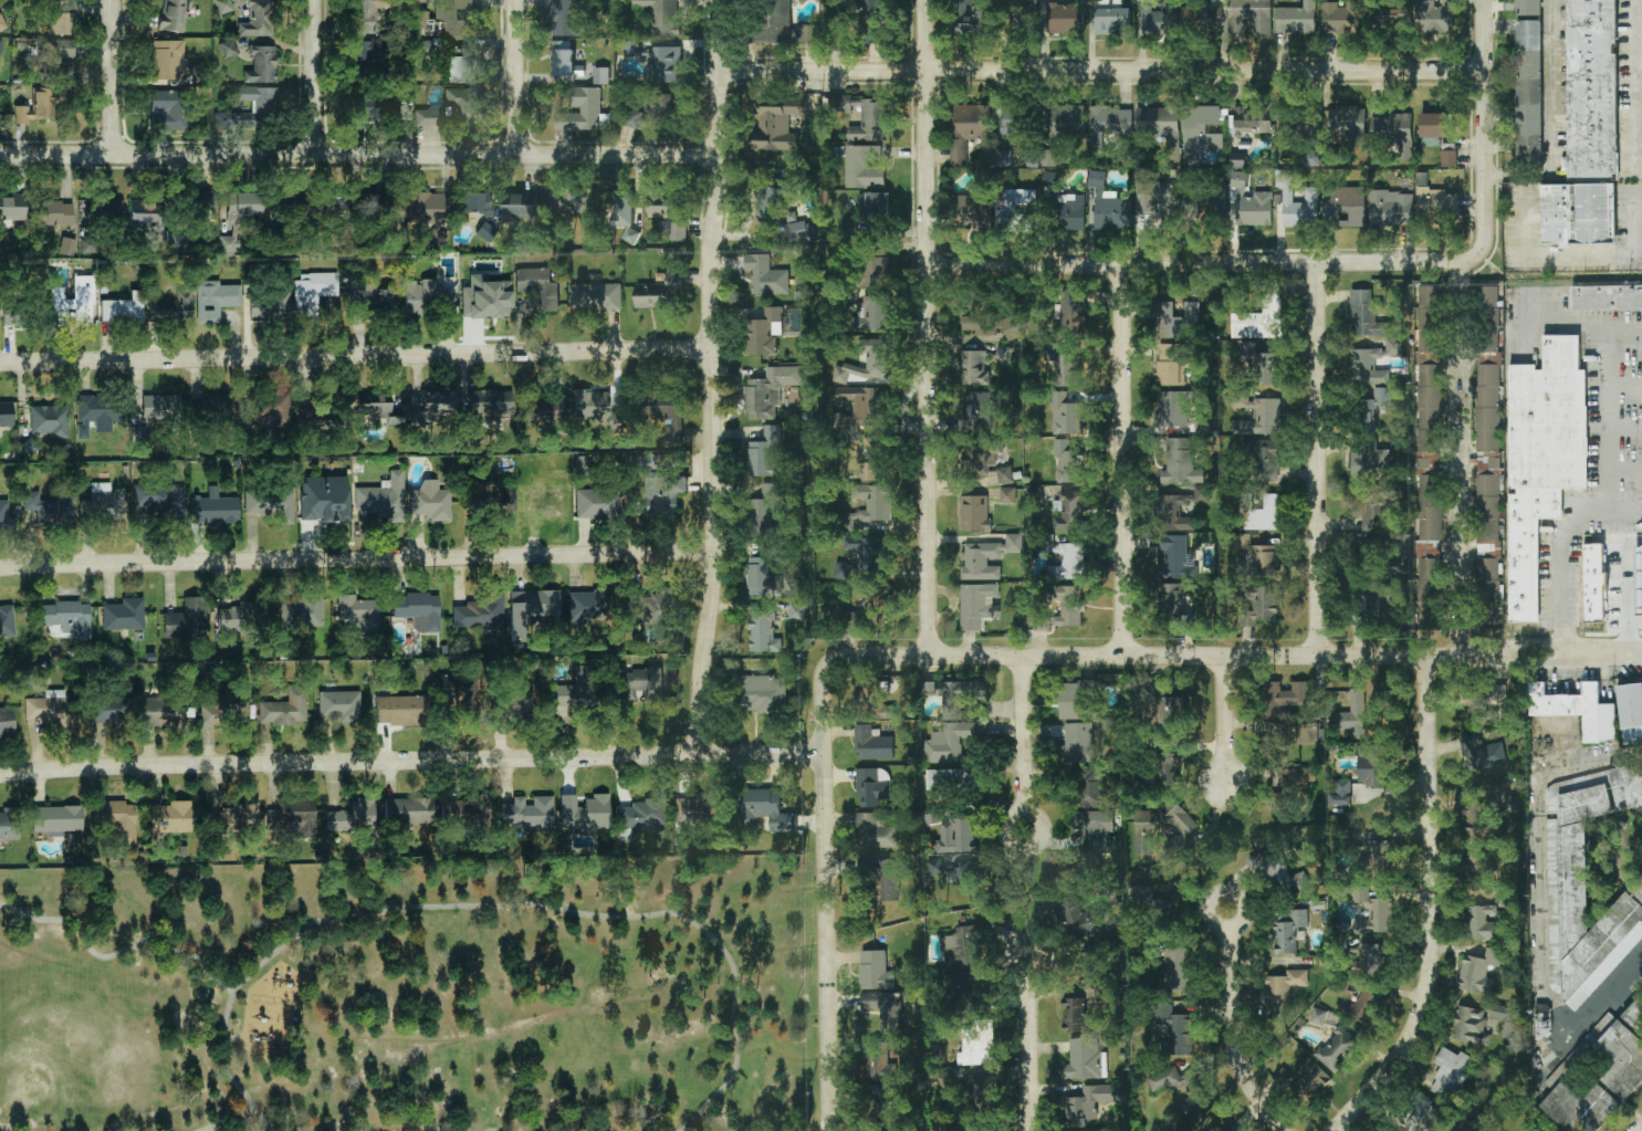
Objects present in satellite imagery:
building: (223, 6)
building: (174, 14)
building: (368, 15)
building: (661, 15)
building: (1435, 15)
building: (1202, 17)
building: (1251, 17)
building: (1390, 17)
building: (457, 18)
building: (568, 18)
building: (972, 18)
building: (1112, 18)
building: (1342, 18)
building: (258, 19)
building: (1065, 19)
building: (1160, 19)
building: (1296, 19)
building: (872, 21)
building: (1, 22)
building: (61, 23)
building: (782, 24)
building: (0, 46)
building: (227, 49)
building: (630, 49)
building: (367, 52)
building: (46, 60)
building: (172, 62)
building: (565, 63)
building: (261, 64)
building: (668, 64)
road: (1102, 71)
building: (602, 75)
road: (114, 77)
road: (316, 77)
road: (517, 77)
building: (1528, 81)
road: (1636, 86)
building: (1591, 91)
building: (364, 103)
building: (461, 105)
road: (1640, 105)
building: (38, 106)
building: (174, 106)
building: (263, 106)
building: (662, 106)
building: (390, 107)
building: (582, 112)
road: (1549, 115)
building: (428, 117)
building: (1294, 117)
building: (1069, 118)
building: (1016, 119)
building: (777, 122)
building: (871, 122)
building: (1252, 122)
building: (1347, 122)
building: (1109, 124)
building: (1435, 125)
building: (1161, 126)
building: (969, 127)
road: (1486, 129)
building: (1200, 130)
building: (1394, 132)
road: (359, 156)
building: (1050, 157)
building: (1311, 158)
building: (1448, 158)
building: (1237, 159)
building: (864, 167)
building: (1050, 179)
building: (1238, 180)
building: (199, 199)
building: (1158, 199)
building: (571, 200)
building: (1434, 200)
building: (289, 201)
building: (772, 202)
building: (1297, 203)
building: (876, 205)
building: (331, 206)
building: (1214, 206)
building: (1343, 207)
building: (426, 208)
building: (517, 208)
building: (1391, 208)
building: (12, 209)
building: (1255, 209)
building: (140, 210)
building: (626, 210)
building: (666, 210)
building: (1014, 210)
building: (975, 211)
building: (1073, 212)
building: (54, 213)
building: (1578, 214)
building: (239, 217)
road: (1635, 226)
building: (801, 230)
building: (485, 231)
building: (679, 231)
building: (630, 237)
building: (185, 242)
road: (1549, 252)
road: (1204, 263)
building: (874, 271)
building: (765, 275)
building: (538, 286)
building: (658, 291)
building: (314, 293)
building: (485, 295)
building: (428, 296)
building: (595, 296)
building: (1606, 299)
building: (215, 300)
building: (373, 301)
building: (74, 303)
building: (270, 305)
building: (123, 308)
building: (171, 308)
building: (12, 313)
building: (875, 313)
building: (1368, 316)
building: (1071, 317)
building: (1178, 320)
building: (1257, 322)
road: (1458, 323)
road: (1568, 323)
building: (981, 324)
building: (1012, 327)
road: (929, 328)
building: (764, 331)
building: (1004, 354)
road: (357, 356)
building: (871, 359)
building: (1175, 363)
building: (1373, 363)
building: (1259, 364)
building: (1063, 366)
building: (974, 368)
road: (714, 377)
building: (1429, 378)
road: (1622, 387)
building: (768, 391)
building: (862, 402)
building: (209, 405)
building: (1373, 406)
building: (378, 407)
building: (433, 407)
building: (160, 408)
building: (272, 410)
building: (542, 410)
building: (597, 410)
building: (1181, 411)
building: (979, 412)
building: (6, 413)
building: (96, 413)
building: (1067, 415)
building: (1258, 417)
road: (1603, 418)
building: (314, 419)
building: (49, 420)
building: (1488, 420)
building: (766, 453)
road: (1320, 460)
building: (1369, 460)
building: (1541, 460)
building: (650, 461)
road: (1125, 461)
building: (1265, 461)
building: (1180, 462)
building: (1067, 463)
building: (983, 464)
road: (1623, 467)
building: (1005, 475)
building: (480, 493)
building: (1034, 494)
building: (157, 495)
building: (662, 495)
building: (1007, 495)
building: (324, 498)
building: (383, 498)
building: (430, 501)
building: (105, 502)
building: (597, 503)
building: (871, 503)
building: (271, 504)
building: (48, 507)
building: (212, 507)
building: (766, 507)
building: (1377, 507)
building: (1181, 509)
building: (1069, 511)
building: (974, 513)
building: (1262, 513)
building: (1430, 515)
building: (4, 516)
road: (1460, 545)
building: (1364, 551)
building: (868, 553)
road: (1566, 553)
building: (1261, 556)
building: (987, 557)
road: (357, 558)
building: (1175, 558)
building: (1069, 563)
building: (841, 570)
road: (1627, 575)
building: (763, 577)
building: (1488, 580)
building: (1594, 583)
building: (1430, 590)
building: (1381, 599)
building: (587, 604)
building: (976, 605)
building: (1174, 605)
building: (1262, 605)
building: (1068, 606)
building: (652, 607)
building: (870, 608)
building: (1357, 608)
building: (530, 609)
building: (418, 610)
building: (301, 611)
building: (480, 611)
building: (797, 612)
building: (359, 614)
building: (123, 615)
building: (240, 617)
building: (66, 618)
building: (186, 619)
building: (7, 621)
building: (763, 632)
road: (1629, 633)
road: (1232, 658)
building: (642, 684)
building: (576, 689)
building: (452, 693)
building: (869, 693)
building: (762, 694)
building: (1291, 695)
building: (961, 698)
building: (1076, 700)
building: (1484, 704)
building: (338, 705)
building: (516, 705)
building: (1630, 706)
building: (1571, 708)
building: (222, 709)
building: (284, 709)
building: (399, 709)
building: (51, 710)
building: (163, 710)
building: (113, 711)
building: (1170, 711)
building: (886, 712)
building: (1353, 714)
building: (7, 721)
road: (1225, 721)
road: (1023, 735)
building: (952, 741)
building: (1079, 742)
building: (872, 744)
building: (1482, 753)
road: (411, 760)
building: (1372, 766)
building: (1169, 769)
building: (950, 778)
building: (871, 788)
building: (1098, 792)
building: (1340, 794)
building: (699, 808)
building: (408, 809)
building: (464, 809)
building: (526, 810)
building: (772, 810)
building: (584, 813)
building: (642, 814)
building: (239, 815)
building: (293, 816)
building: (352, 816)
building: (115, 817)
building: (170, 817)
building: (56, 819)
building: (10, 824)
building: (1096, 828)
building: (1163, 828)
building: (874, 831)
road: (1039, 832)
building: (958, 835)
building: (1380, 856)
road: (1540, 857)
building: (1279, 873)
building: (964, 878)
building: (887, 880)
building: (1566, 898)
road: (826, 900)
building: (1147, 901)
road: (1242, 903)
road: (437, 905)
road: (1430, 908)
building: (1374, 912)
building: (1085, 920)
building: (1482, 923)
building: (1288, 930)
building: (963, 949)
building: (1372, 957)
building: (1176, 970)
building: (875, 971)
building: (1479, 972)
road: (210, 984)
building: (1283, 992)
building: (201, 993)
park: (418, 995)
road: (1607, 996)
building: (1101, 1001)
building: (1366, 1009)
building: (1074, 1015)
building: (1634, 1015)
building: (1318, 1016)
building: (1505, 1019)
building: (1542, 1025)
building: (1470, 1026)
building: (1175, 1029)
road: (1235, 1036)
road: (236, 1040)
road: (1026, 1044)
building: (982, 1047)
building: (1337, 1049)
park: (73, 1051)
road: (224, 1056)
building: (1609, 1056)
building: (1086, 1059)
building: (1451, 1071)
building: (1303, 1079)
building: (1196, 1088)
building: (980, 1091)
building: (1578, 1104)
building: (1422, 1113)
road: (242, 1114)
building: (1536, 1129)
road: (211, 1130)

